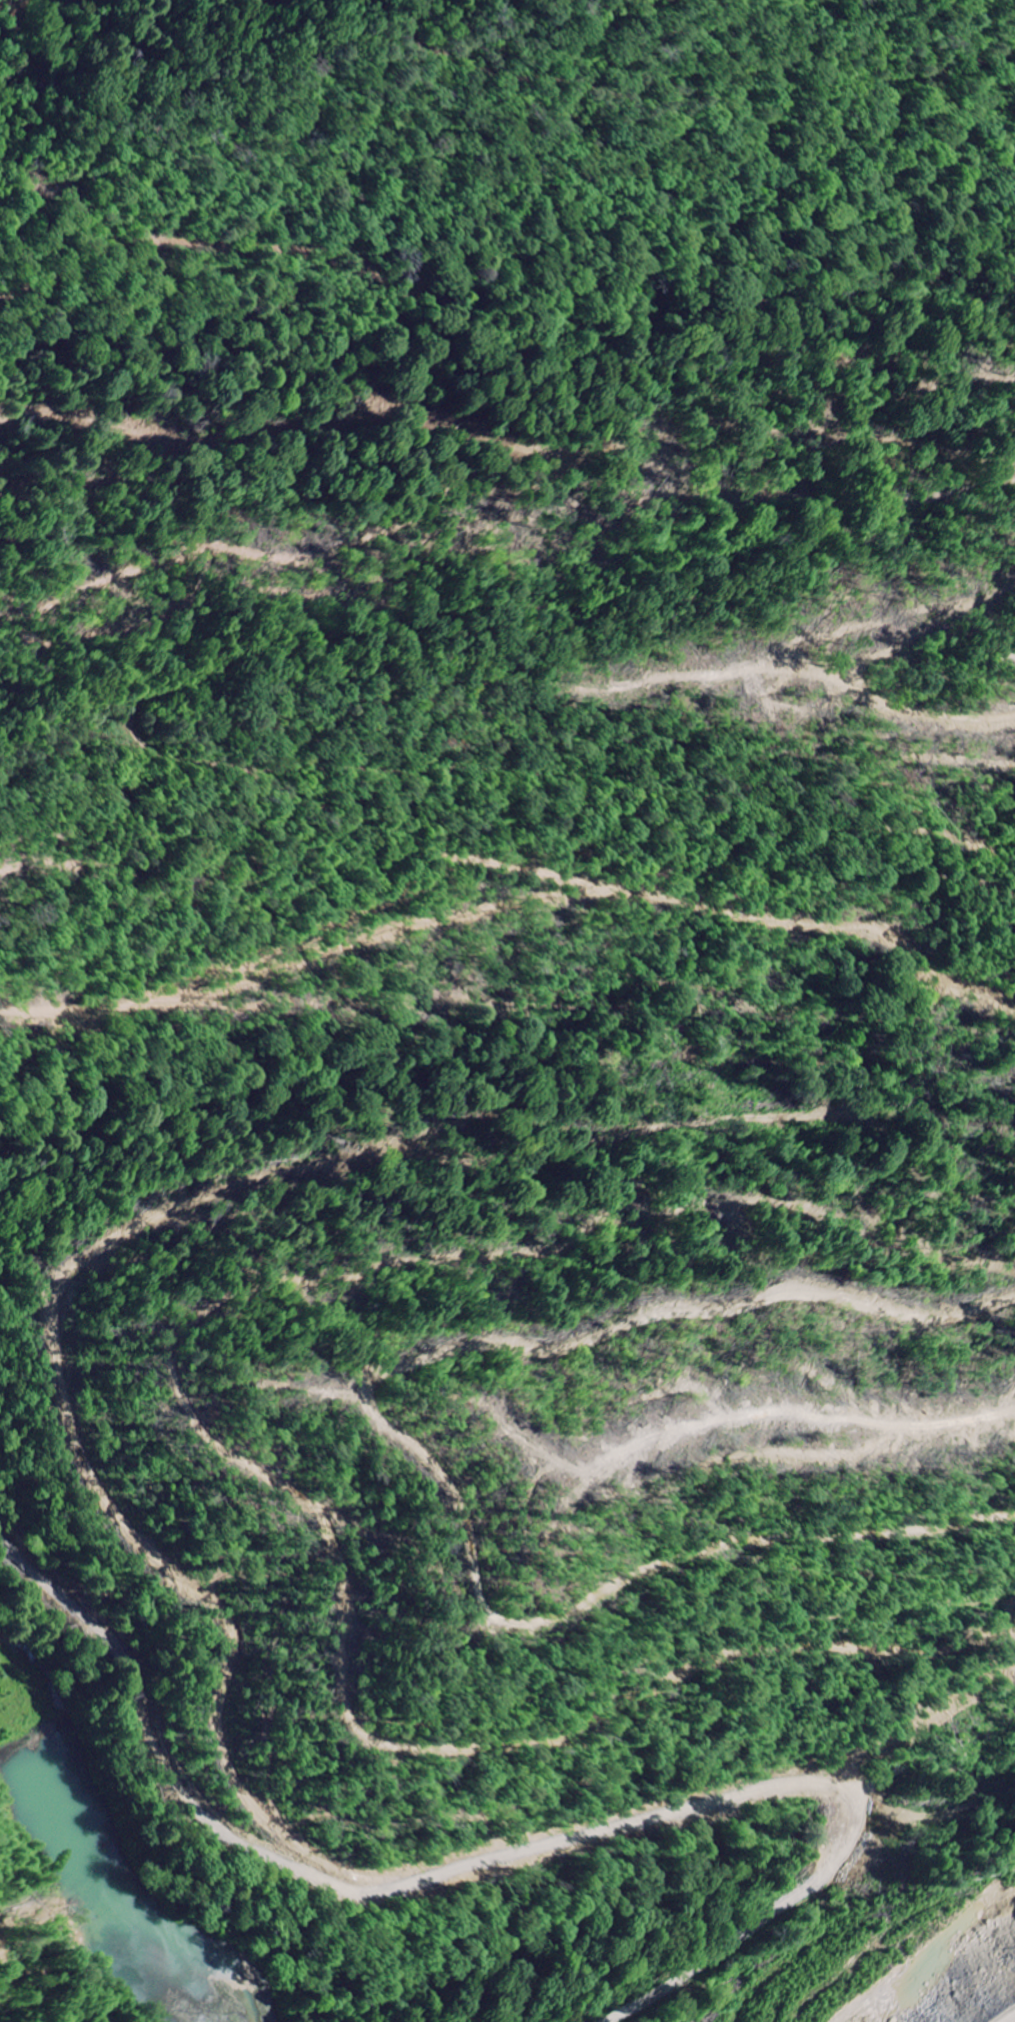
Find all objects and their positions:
quarry: (852, 1916)

